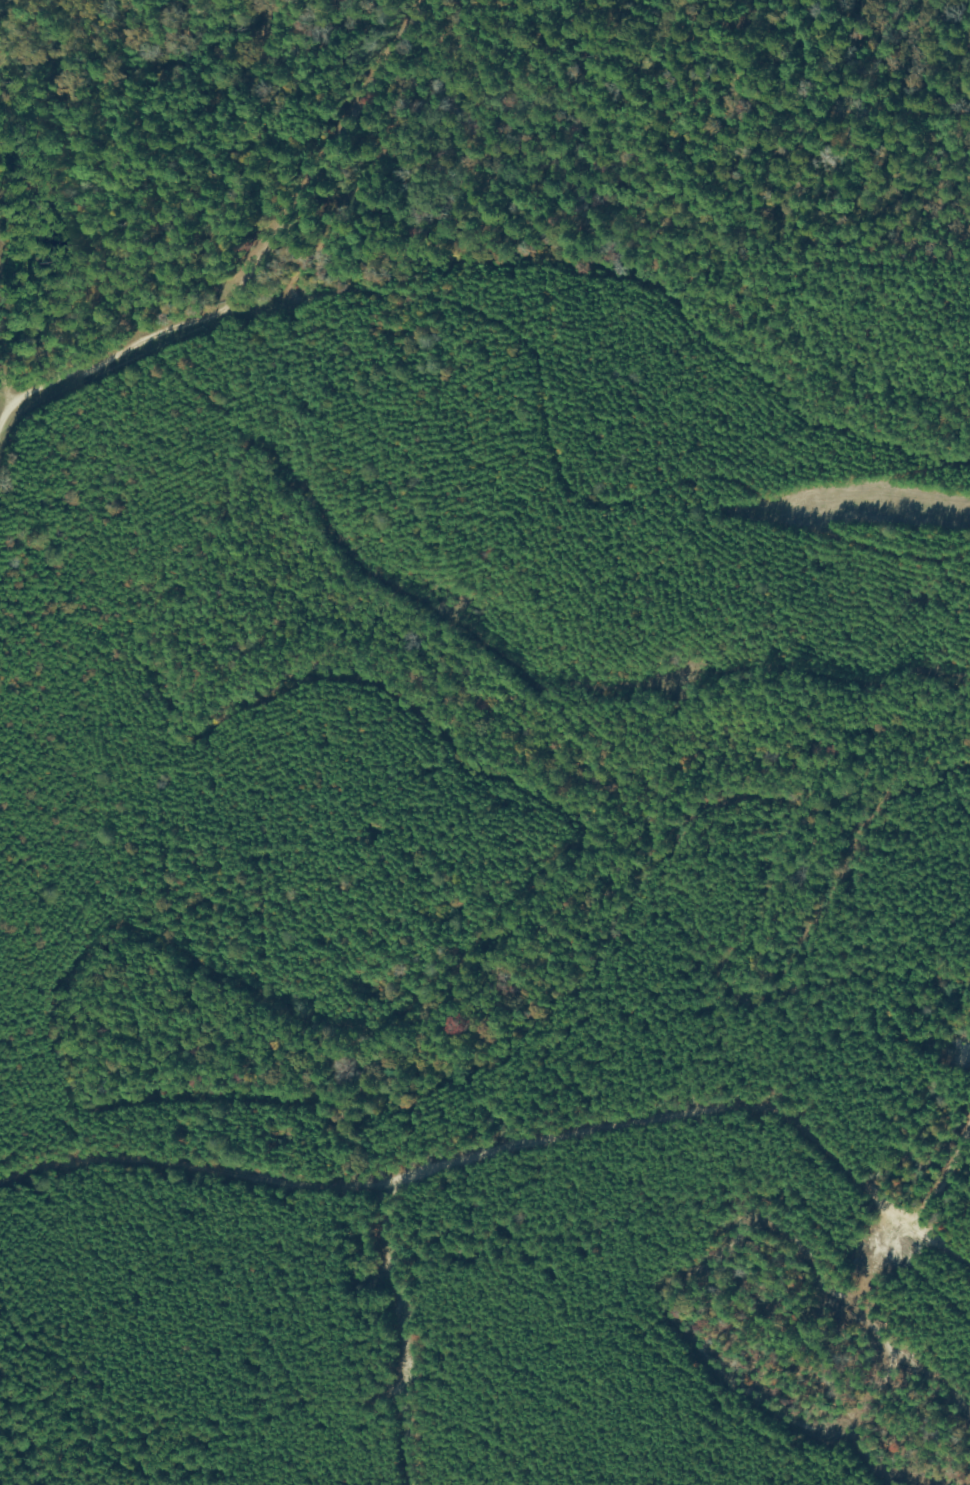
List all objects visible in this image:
park: (770, 58)

